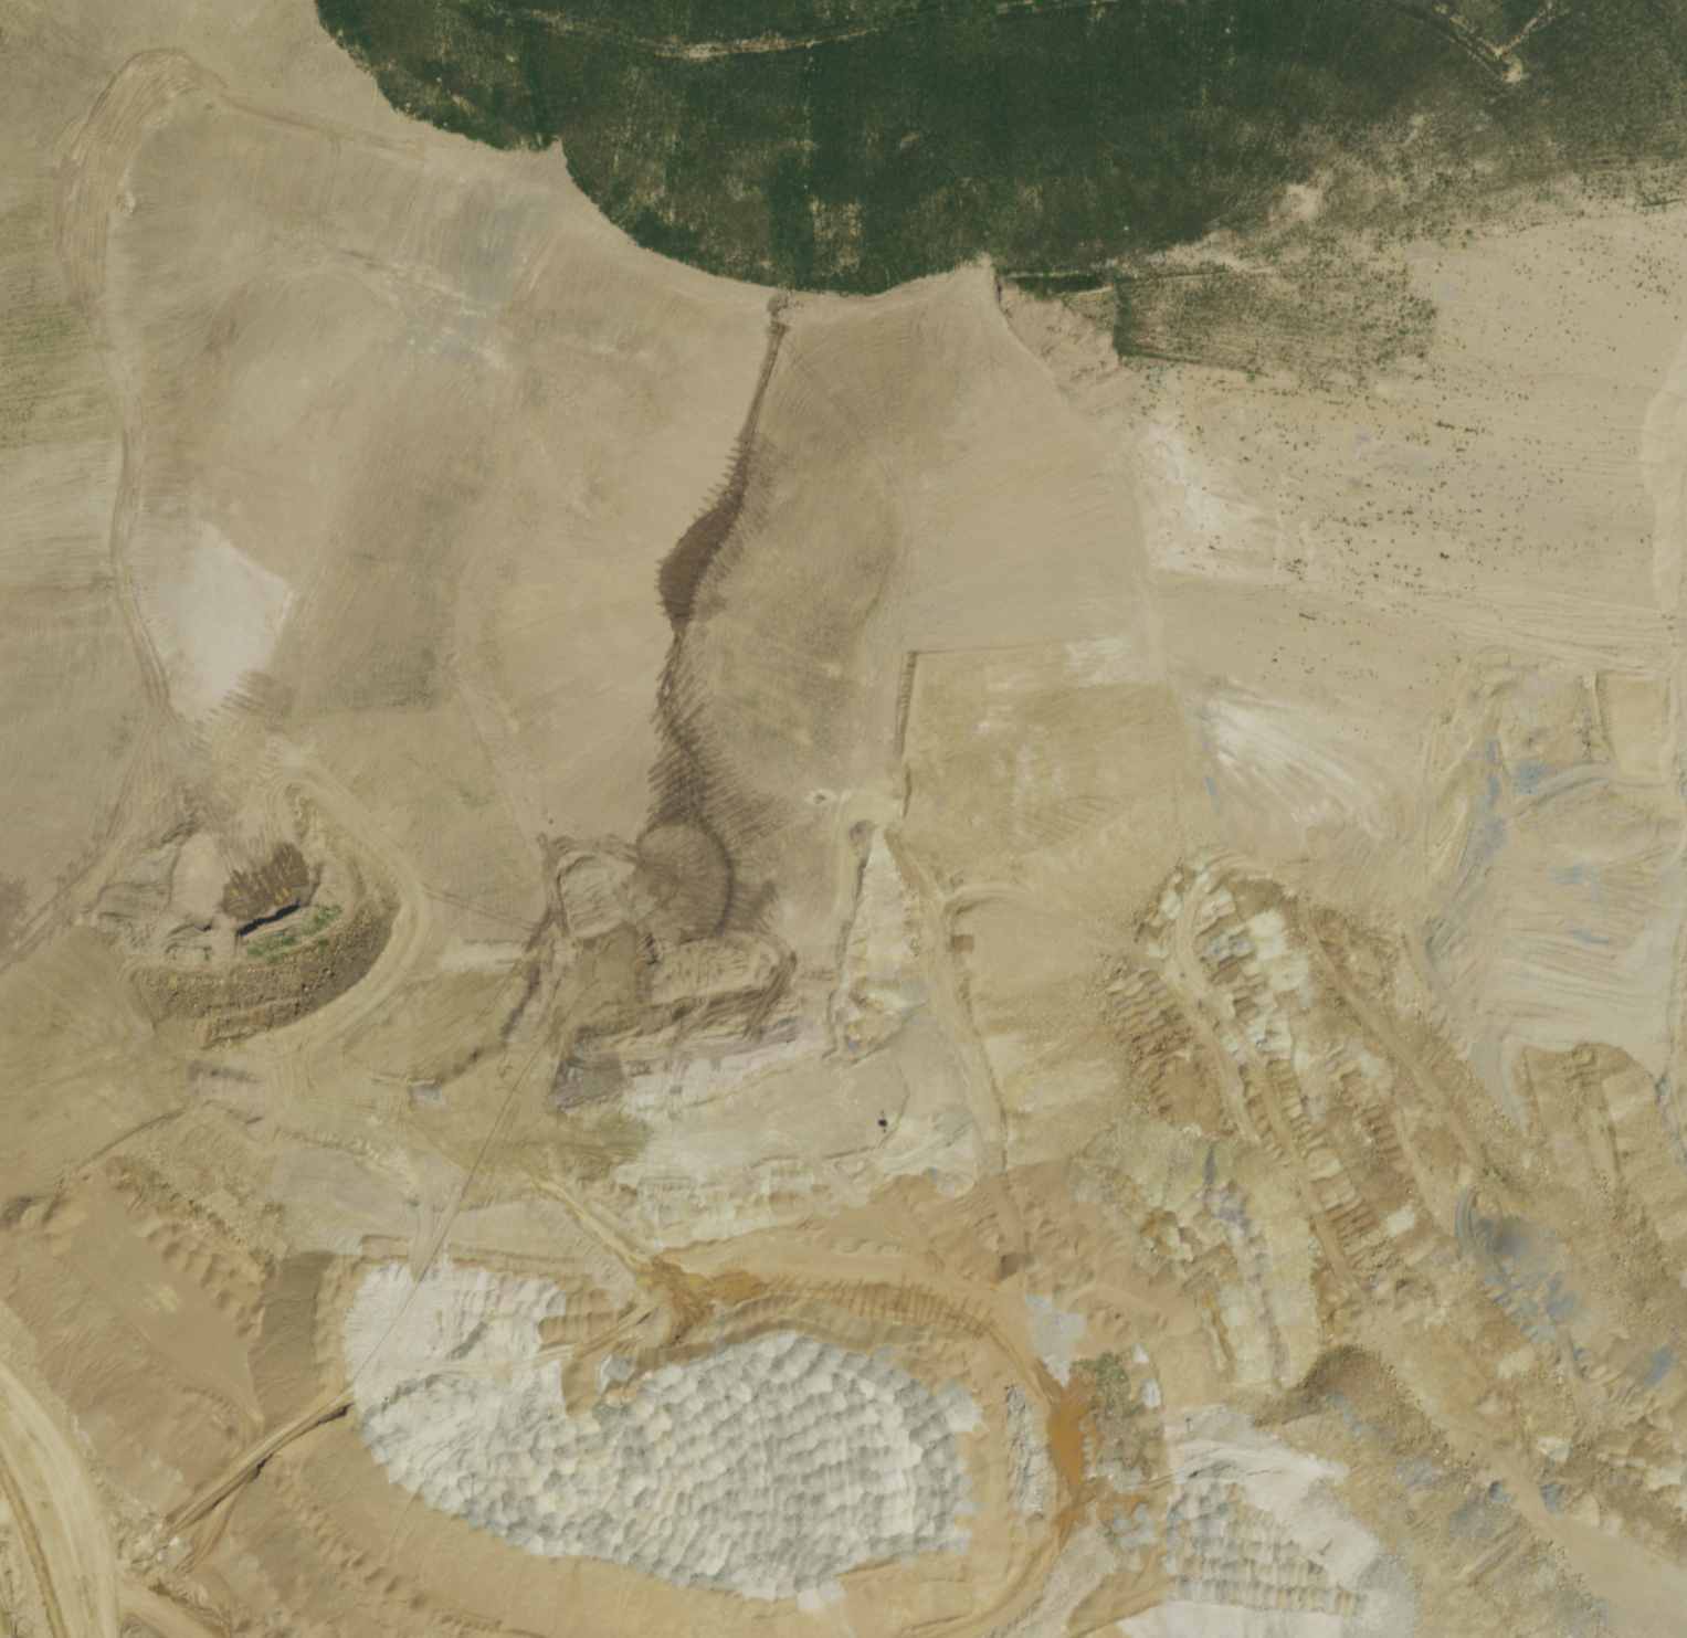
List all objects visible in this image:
quarry: (872, 871)
building: (858, 911)
building: (744, 1137)
building: (1484, 1503)
building: (581, 1566)

